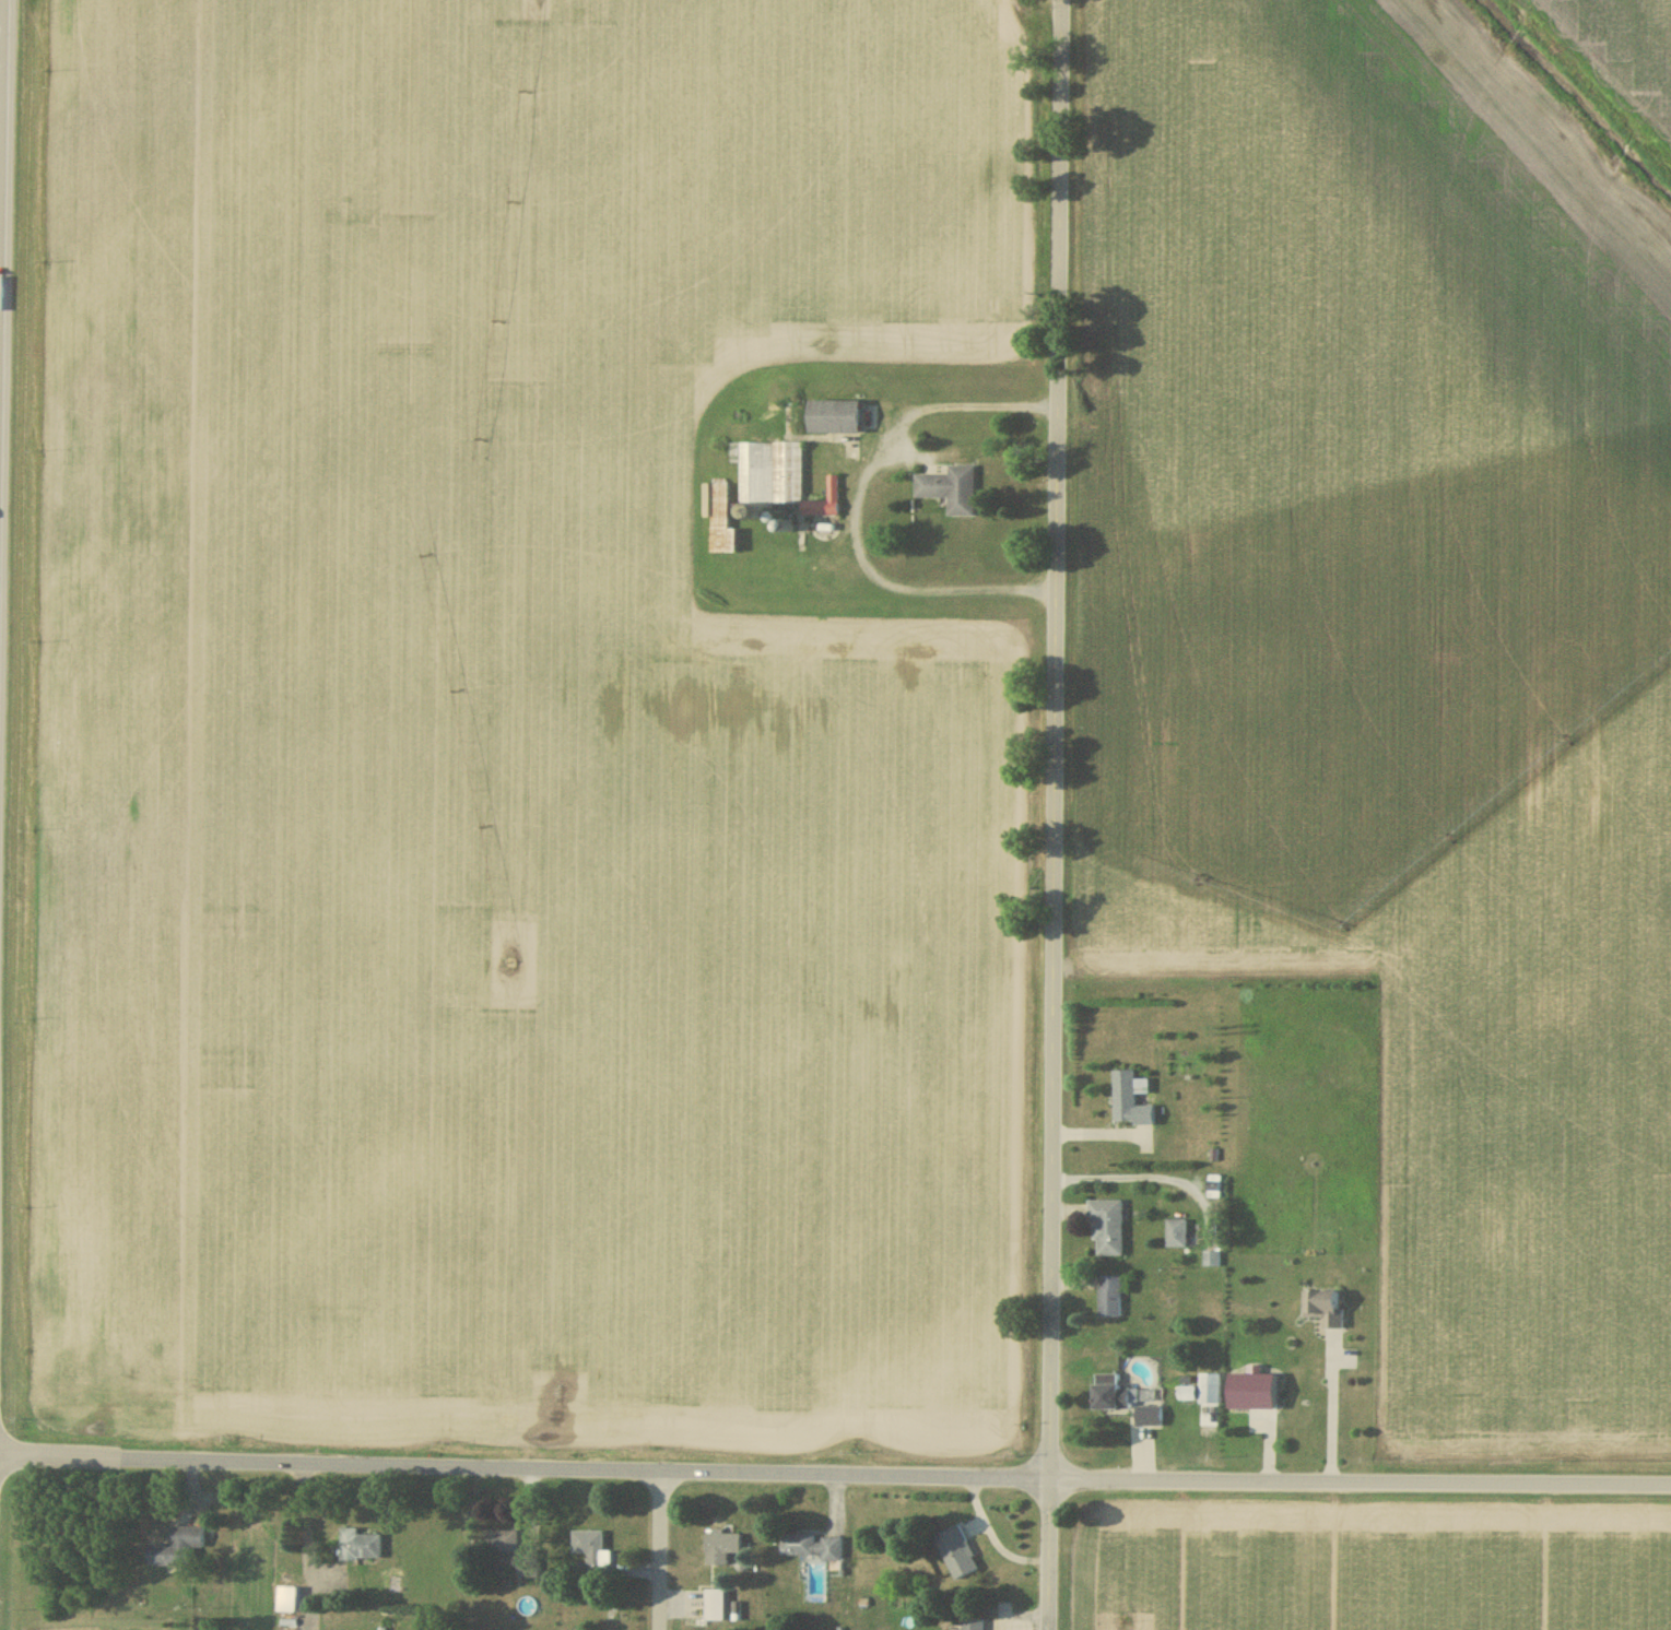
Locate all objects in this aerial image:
road: (856, 507)
road: (1047, 815)
road: (1131, 1176)
road: (1332, 1409)
road: (835, 1476)
road: (658, 1552)

